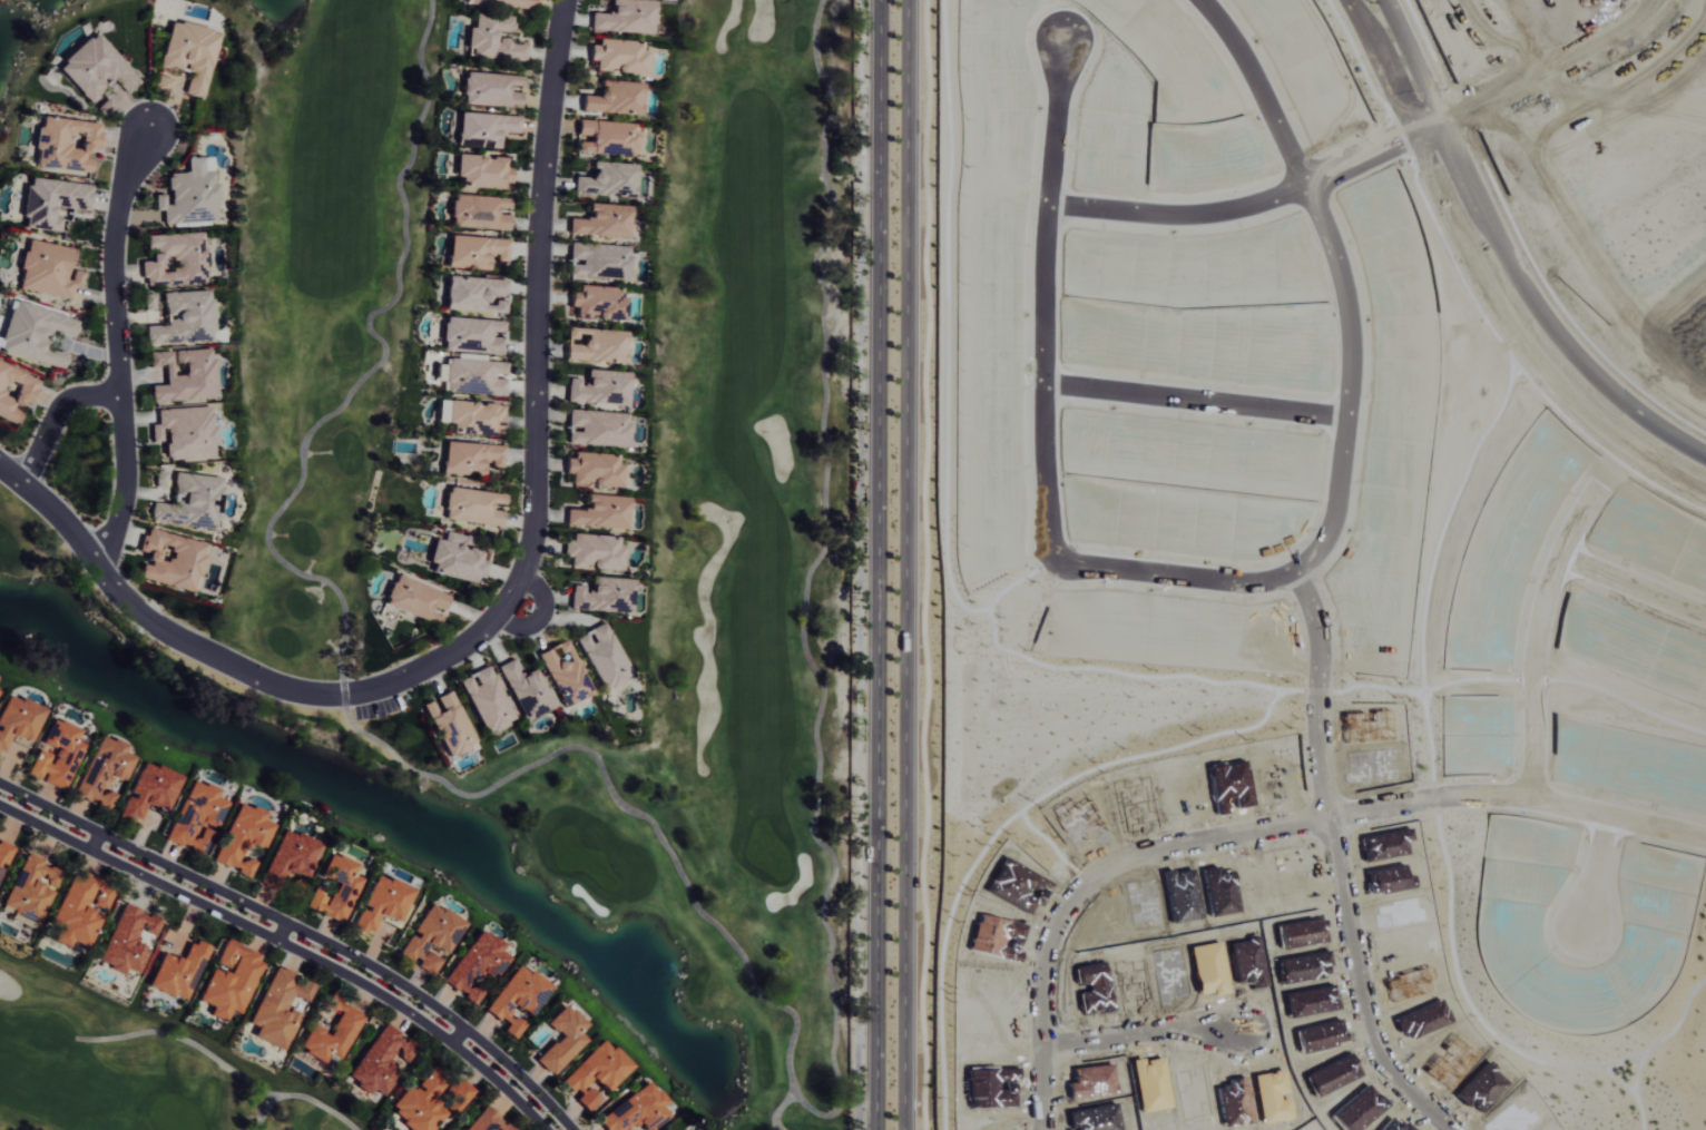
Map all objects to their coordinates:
building: (502, 2)
building: (625, 17)
park: (21, 37)
building: (492, 38)
building: (188, 53)
building: (618, 56)
building: (95, 67)
building: (161, 81)
building: (492, 89)
building: (616, 98)
building: (486, 128)
building: (608, 137)
building: (66, 143)
building: (483, 171)
building: (608, 179)
building: (190, 194)
building: (52, 200)
road: (1256, 206)
building: (479, 212)
building: (604, 220)
building: (475, 250)
building: (175, 258)
road: (1509, 259)
building: (599, 261)
building: (49, 269)
road: (1482, 284)
building: (475, 294)
building: (598, 303)
building: (183, 318)
building: (36, 333)
building: (472, 335)
building: (598, 345)
road: (119, 347)
building: (185, 375)
building: (472, 376)
building: (600, 387)
building: (16, 391)
road: (1195, 403)
road: (57, 415)
building: (471, 416)
building: (598, 428)
building: (186, 432)
building: (470, 458)
building: (594, 469)
building: (160, 479)
building: (192, 501)
building: (474, 505)
building: (599, 512)
building: (592, 551)
building: (457, 558)
building: (171, 560)
road: (879, 564)
road: (910, 564)
park: (748, 566)
road: (1235, 582)
road: (1636, 587)
building: (602, 595)
building: (416, 599)
road: (1551, 599)
road: (504, 607)
road: (545, 618)
building: (604, 656)
building: (565, 672)
building: (526, 690)
road: (1318, 691)
building: (486, 699)
building: (17, 719)
building: (449, 724)
building: (56, 755)
building: (104, 770)
building: (150, 790)
road: (1520, 796)
building: (195, 816)
building: (242, 837)
road: (96, 842)
building: (4, 855)
building: (290, 857)
road: (1608, 874)
building: (31, 887)
building: (334, 888)
road: (1094, 888)
building: (102, 896)
building: (381, 904)
building: (77, 912)
road: (281, 932)
road: (302, 932)
building: (431, 937)
building: (127, 939)
road: (287, 945)
building: (475, 965)
building: (177, 972)
building: (228, 981)
road: (1369, 987)
building: (518, 999)
building: (277, 1008)
road: (1154, 1029)
building: (331, 1032)
road: (458, 1036)
building: (562, 1039)
building: (381, 1060)
park: (135, 1070)
building: (597, 1073)
building: (457, 1094)
building: (420, 1103)
building: (636, 1110)
building: (487, 1121)
building: (673, 1129)

